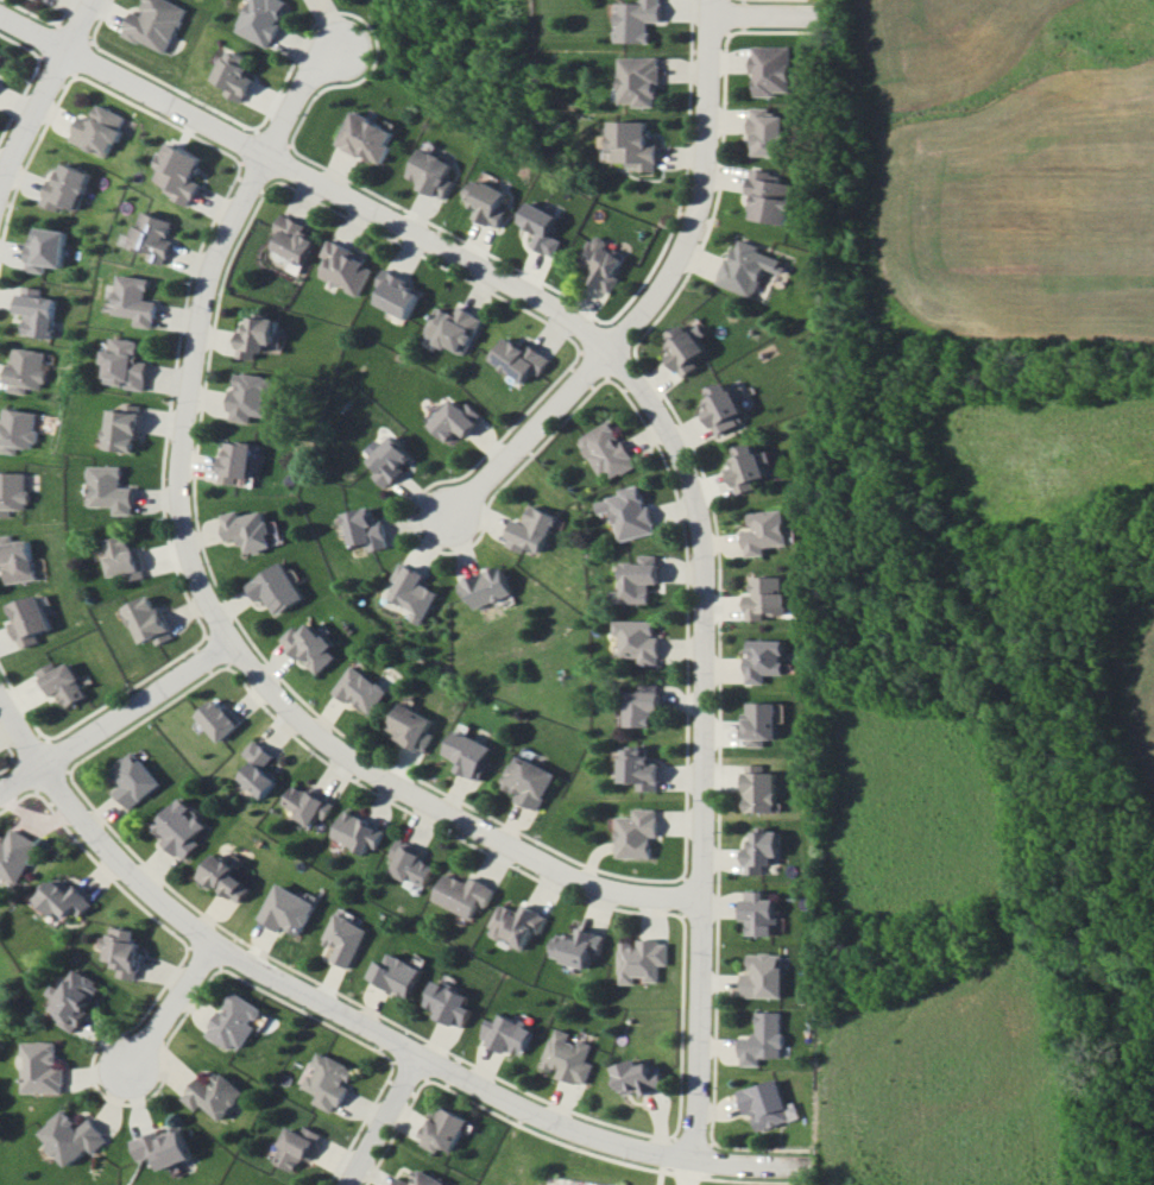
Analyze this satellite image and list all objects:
building: (38, 0)
road: (769, 14)
building: (261, 19)
building: (639, 19)
building: (152, 23)
road: (31, 33)
building: (0, 55)
building: (770, 70)
building: (234, 74)
building: (643, 81)
road: (42, 90)
building: (94, 130)
building: (768, 132)
building: (366, 137)
building: (638, 145)
building: (430, 169)
building: (177, 172)
building: (62, 188)
road: (707, 191)
road: (338, 194)
building: (771, 196)
building: (487, 201)
building: (544, 228)
building: (149, 237)
building: (291, 239)
building: (42, 248)
building: (606, 263)
building: (343, 266)
building: (749, 267)
building: (395, 294)
building: (133, 300)
building: (32, 311)
building: (453, 328)
road: (197, 334)
building: (257, 335)
building: (690, 348)
building: (521, 359)
building: (124, 364)
building: (23, 368)
building: (252, 396)
building: (727, 406)
building: (454, 420)
building: (120, 427)
building: (17, 429)
road: (524, 437)
building: (607, 450)
building: (390, 460)
building: (237, 461)
building: (751, 467)
building: (107, 489)
building: (11, 491)
building: (628, 512)
building: (364, 527)
building: (246, 529)
building: (530, 530)
building: (768, 530)
building: (119, 556)
building: (14, 560)
building: (637, 580)
building: (487, 586)
building: (275, 587)
building: (767, 597)
building: (26, 619)
building: (143, 619)
building: (637, 639)
building: (309, 647)
building: (764, 658)
building: (59, 683)
building: (360, 689)
building: (642, 705)
road: (112, 711)
building: (212, 719)
building: (761, 723)
building: (412, 726)
road: (18, 730)
road: (701, 739)
building: (468, 754)
building: (638, 768)
building: (253, 769)
building: (127, 779)
building: (528, 781)
building: (761, 789)
building: (303, 803)
road: (440, 806)
building: (176, 828)
building: (357, 832)
building: (636, 833)
building: (762, 851)
building: (14, 855)
building: (411, 863)
building: (222, 877)
building: (464, 895)
building: (62, 899)
building: (285, 909)
building: (759, 913)
building: (345, 939)
building: (578, 946)
building: (124, 950)
building: (642, 959)
building: (396, 975)
building: (764, 976)
building: (74, 998)
road: (171, 1004)
building: (449, 1004)
building: (234, 1021)
building: (506, 1034)
road: (386, 1036)
building: (763, 1039)
building: (568, 1057)
building: (44, 1067)
building: (639, 1077)
building: (327, 1080)
building: (214, 1095)
building: (767, 1104)
road: (379, 1118)
building: (442, 1129)
building: (72, 1137)
building: (164, 1147)
building: (296, 1147)
park: (589, 1165)
road: (663, 1168)
road: (687, 1171)
building: (420, 1179)

